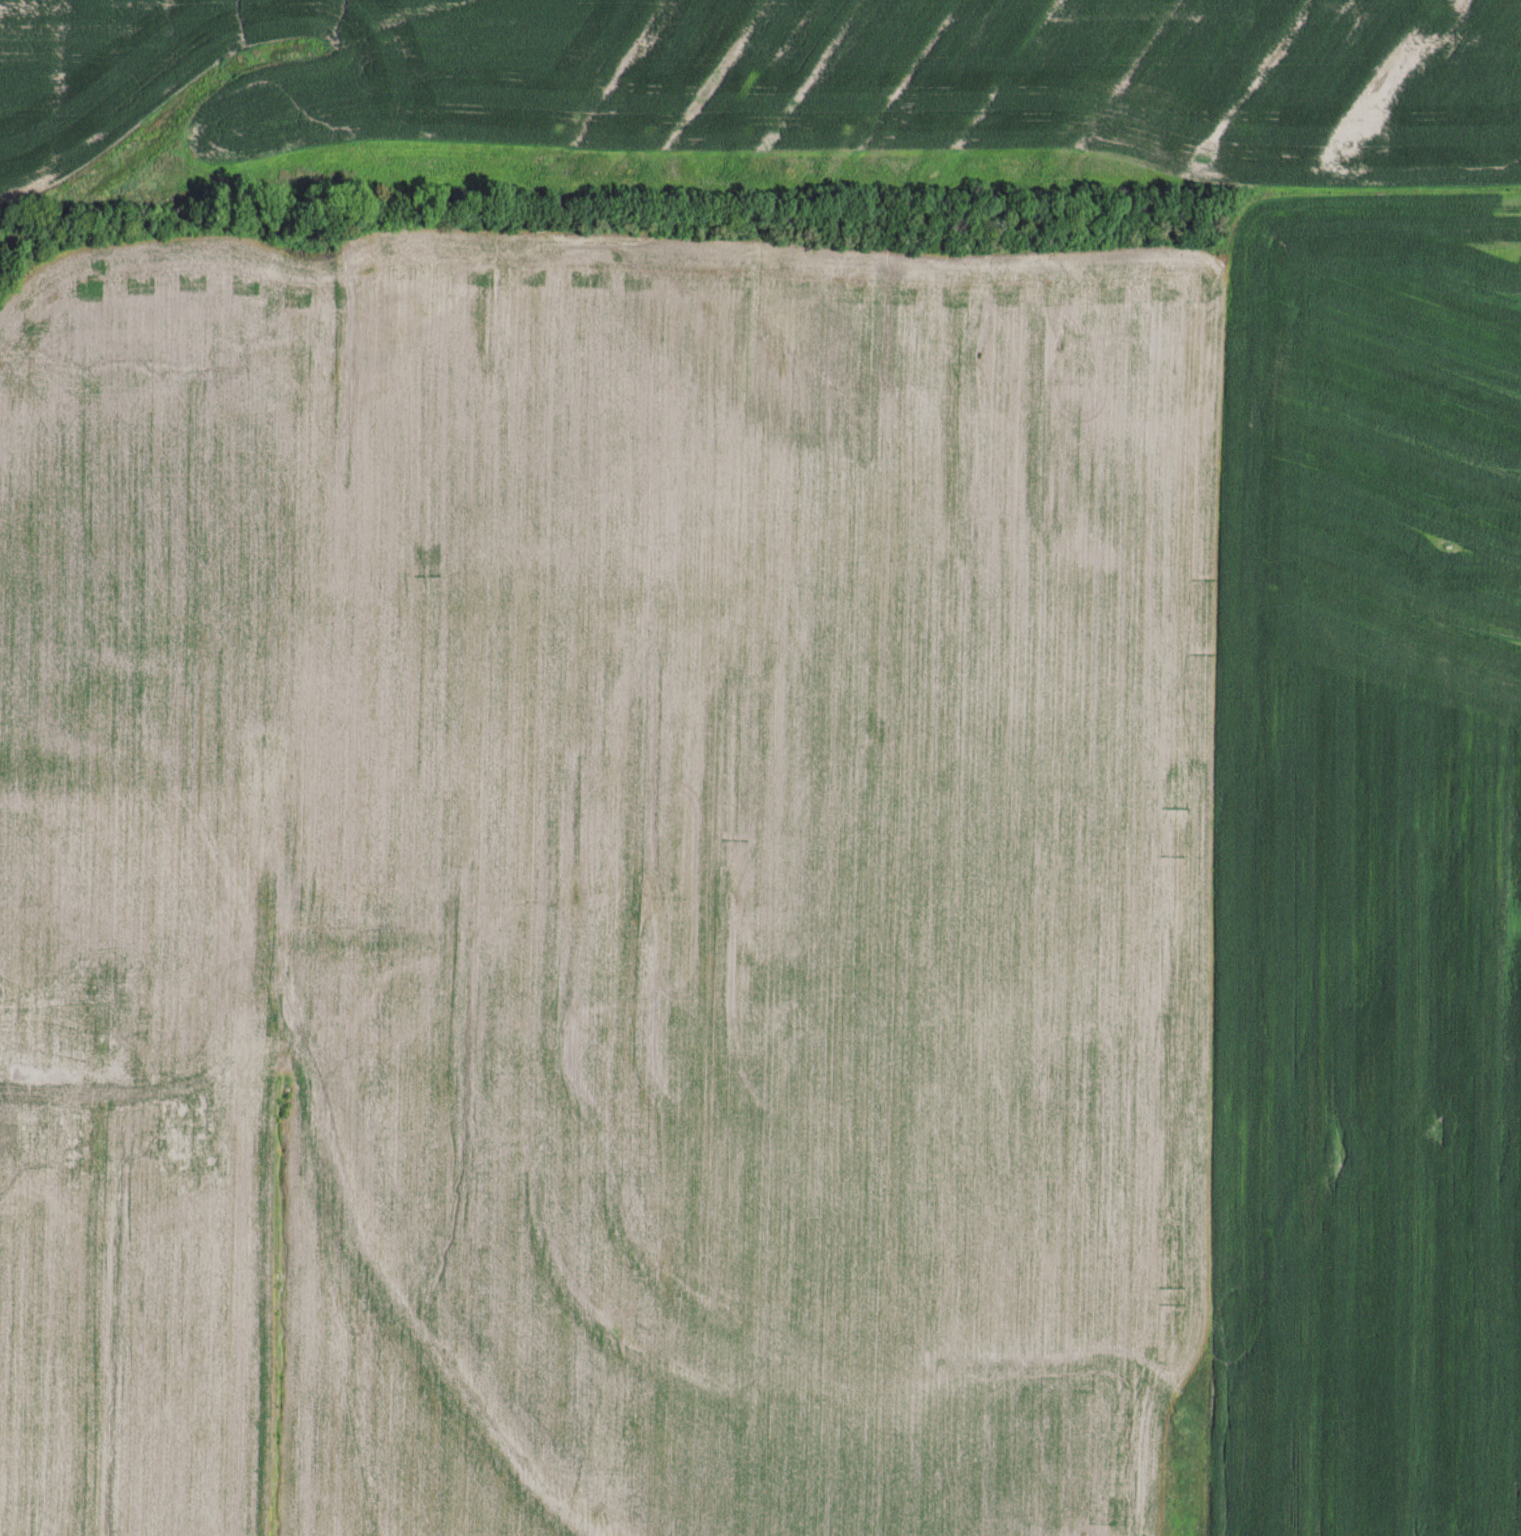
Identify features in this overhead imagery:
road: (1199, 1461)

